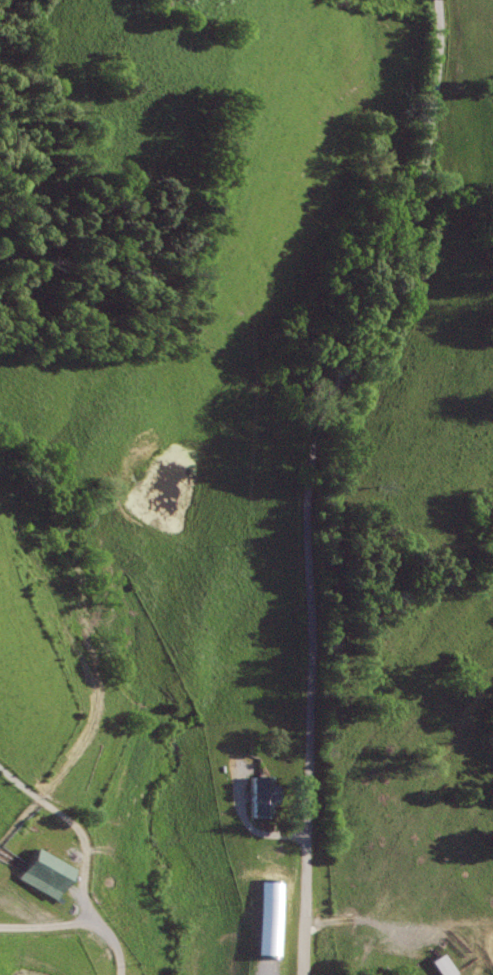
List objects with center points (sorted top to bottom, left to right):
road: (312, 475)
building: (259, 796)
road: (248, 824)
road: (73, 829)
building: (38, 873)
road: (79, 918)
building: (257, 947)
building: (442, 965)

